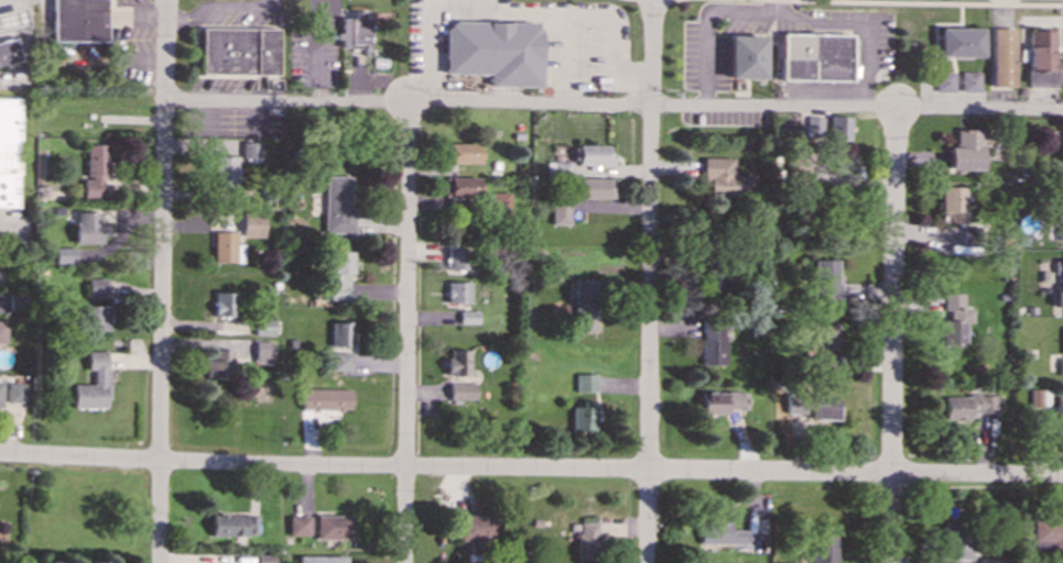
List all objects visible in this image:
road: (950, 2)
road: (509, 9)
building: (11, 19)
building: (78, 20)
building: (356, 32)
building: (958, 42)
building: (8, 51)
building: (238, 51)
building: (493, 51)
building: (745, 56)
building: (815, 56)
building: (1001, 57)
road: (567, 58)
building: (1040, 58)
building: (943, 81)
building: (969, 81)
road: (612, 106)
building: (837, 126)
building: (249, 150)
building: (965, 150)
building: (1061, 151)
building: (9, 152)
building: (463, 152)
building: (594, 154)
building: (557, 168)
building: (225, 170)
building: (95, 172)
building: (725, 178)
building: (460, 187)
building: (594, 188)
building: (497, 202)
building: (336, 205)
building: (953, 205)
building: (560, 211)
building: (251, 224)
building: (88, 228)
building: (226, 247)
building: (64, 255)
building: (456, 258)
building: (338, 274)
building: (825, 279)
road: (162, 280)
road: (649, 280)
building: (711, 283)
building: (457, 291)
building: (1060, 292)
building: (18, 301)
building: (223, 303)
building: (585, 303)
building: (467, 317)
building: (95, 318)
building: (954, 319)
building: (262, 325)
building: (2, 331)
road: (405, 332)
building: (338, 333)
road: (893, 335)
building: (827, 336)
building: (1062, 336)
building: (709, 343)
building: (262, 352)
building: (338, 361)
building: (456, 362)
building: (826, 362)
building: (218, 364)
building: (1061, 366)
building: (93, 383)
building: (585, 383)
building: (0, 388)
building: (459, 388)
building: (14, 391)
building: (1037, 396)
building: (324, 398)
building: (720, 401)
building: (813, 406)
building: (967, 406)
building: (1059, 409)
building: (583, 416)
road: (531, 470)
road: (37, 510)
building: (232, 525)
building: (297, 525)
building: (330, 527)
building: (474, 527)
building: (1046, 531)
building: (719, 533)
building: (587, 540)
building: (955, 541)
building: (823, 548)
building: (263, 559)
building: (321, 559)
building: (988, 560)

